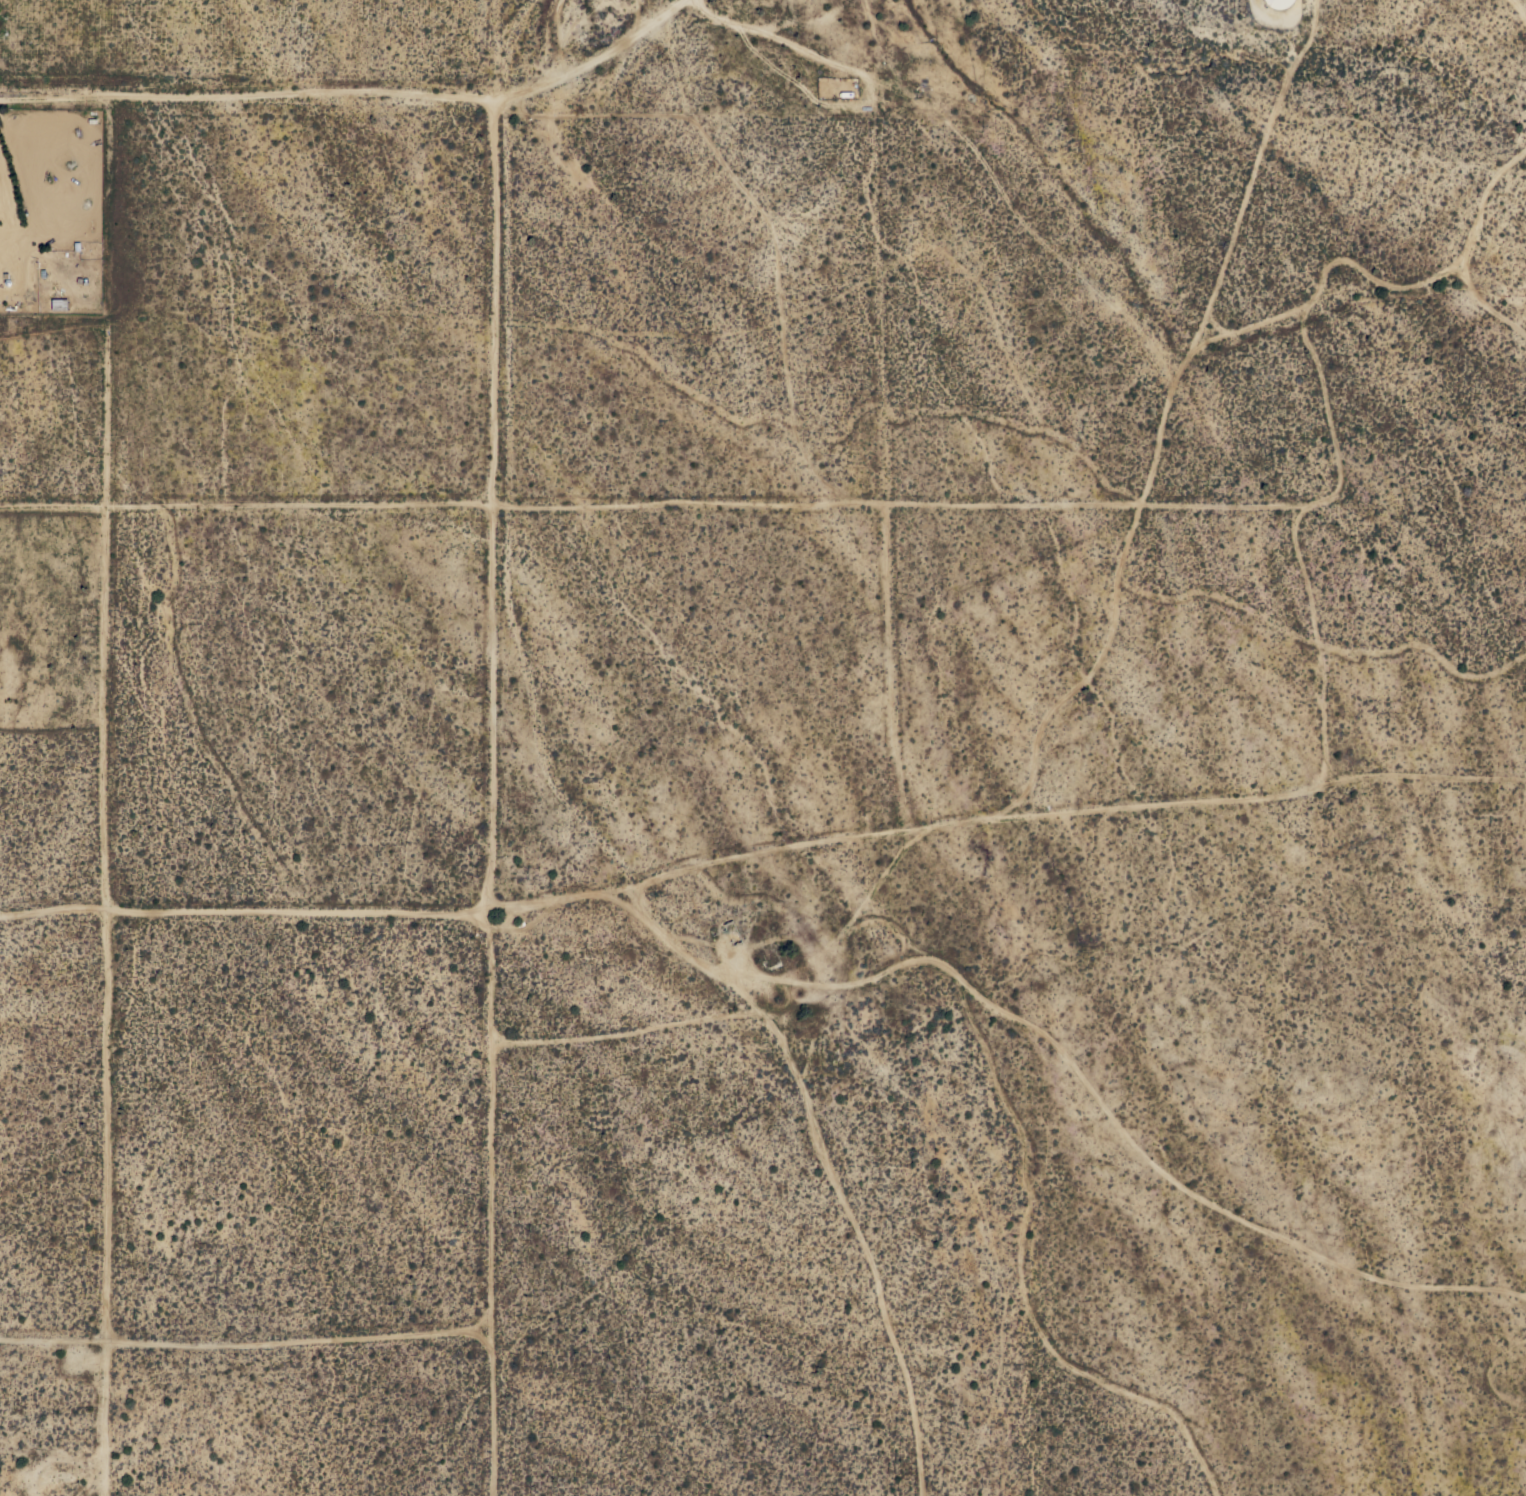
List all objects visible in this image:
building: (1277, 3)
road: (503, 52)
road: (597, 61)
building: (835, 88)
building: (852, 91)
road: (248, 101)
building: (54, 304)
road: (651, 503)
road: (101, 707)
road: (492, 749)

